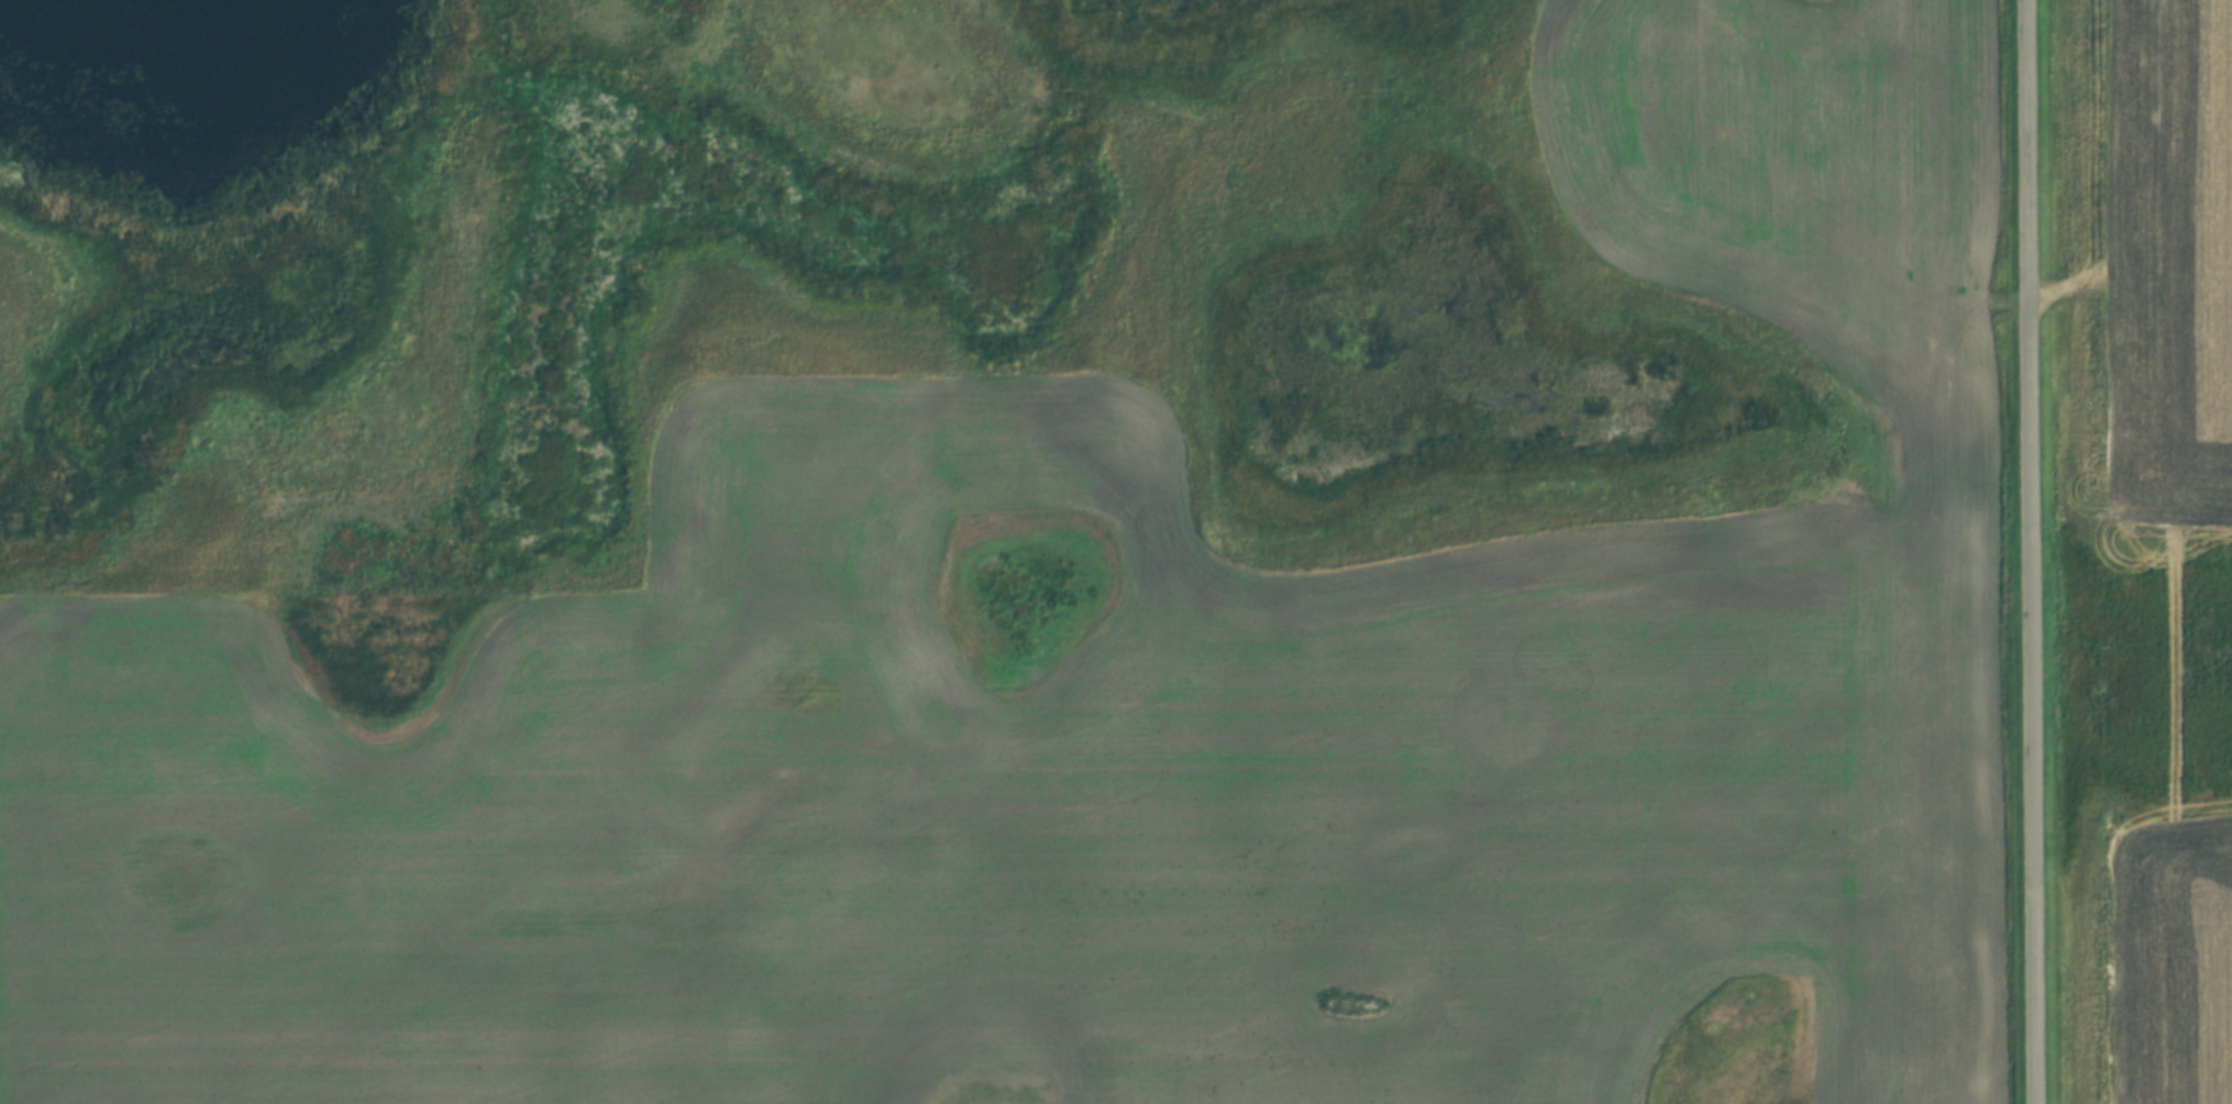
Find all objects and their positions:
road: (2030, 552)

